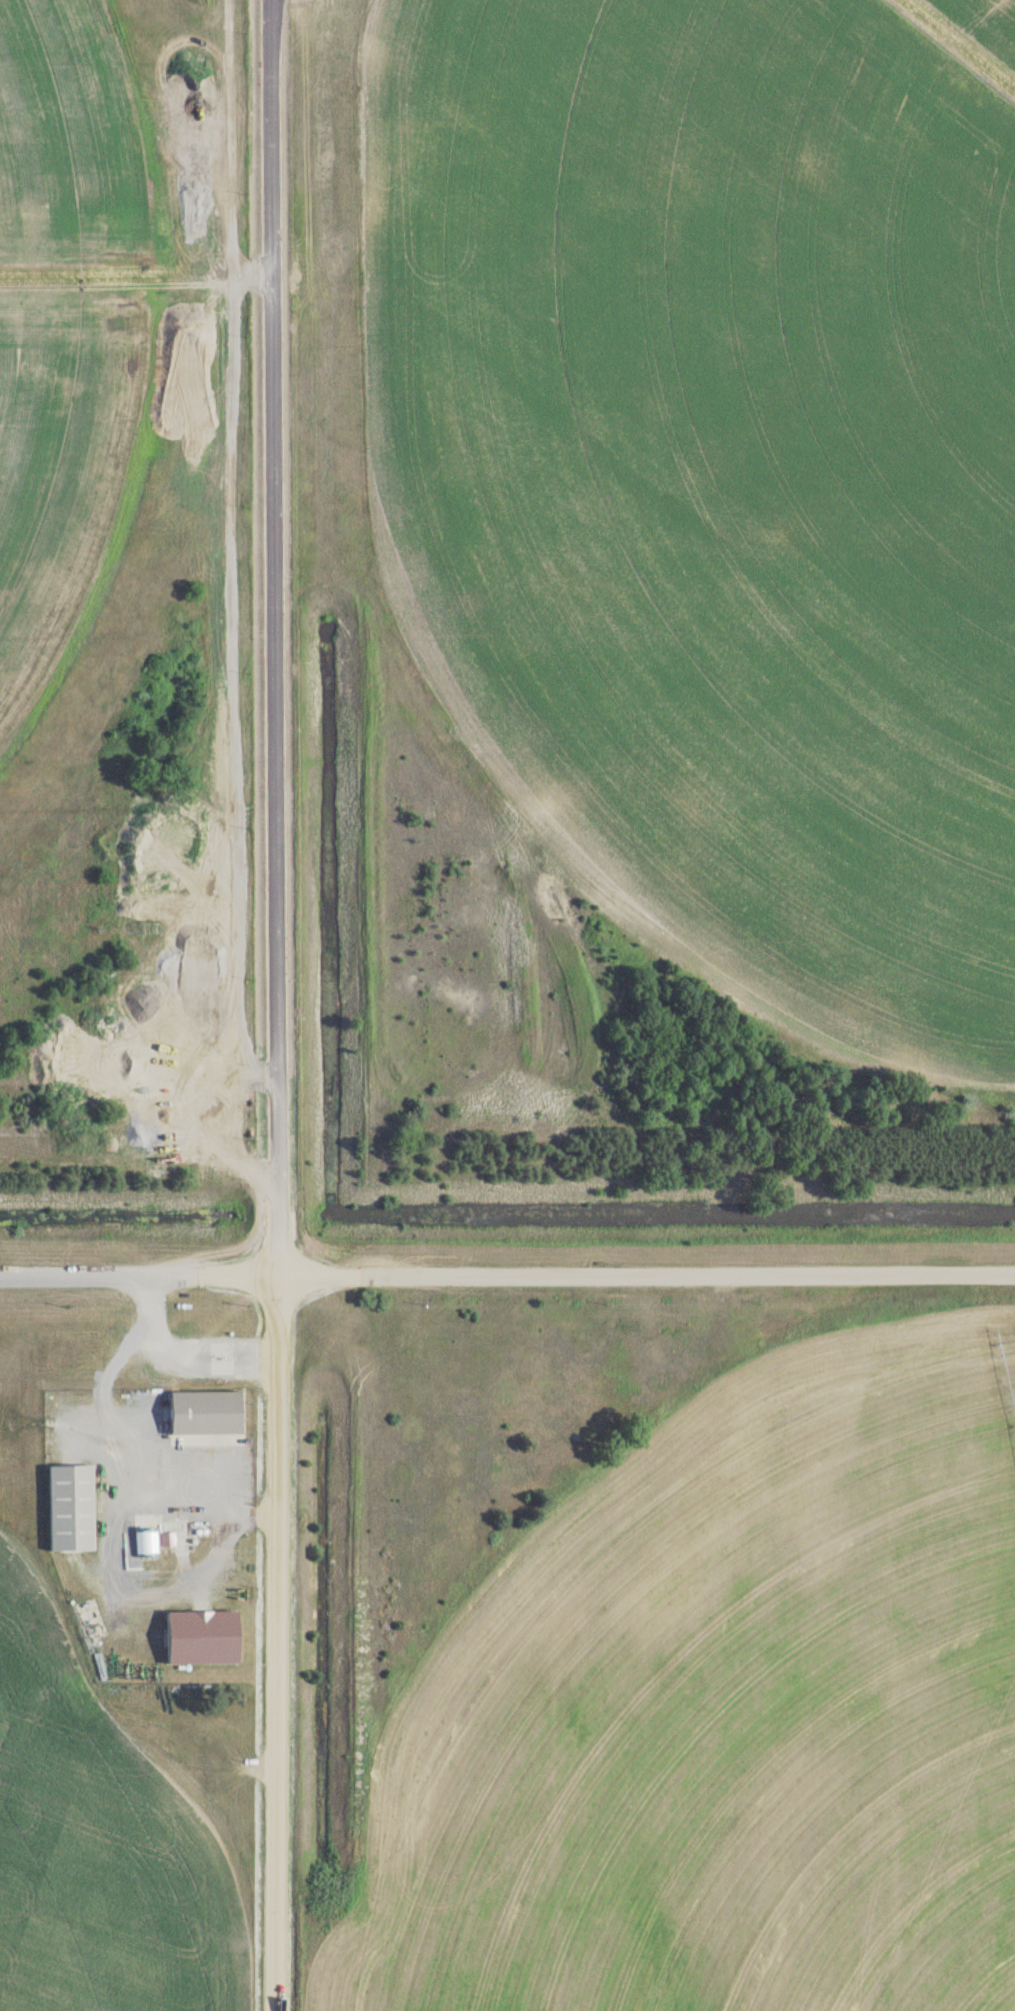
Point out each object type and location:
road: (273, 636)
wastewater plant: (507, 1005)
road: (507, 1269)
road: (274, 1313)
road: (261, 1354)
building: (205, 1411)
road: (191, 1487)
building: (70, 1507)
building: (202, 1637)

